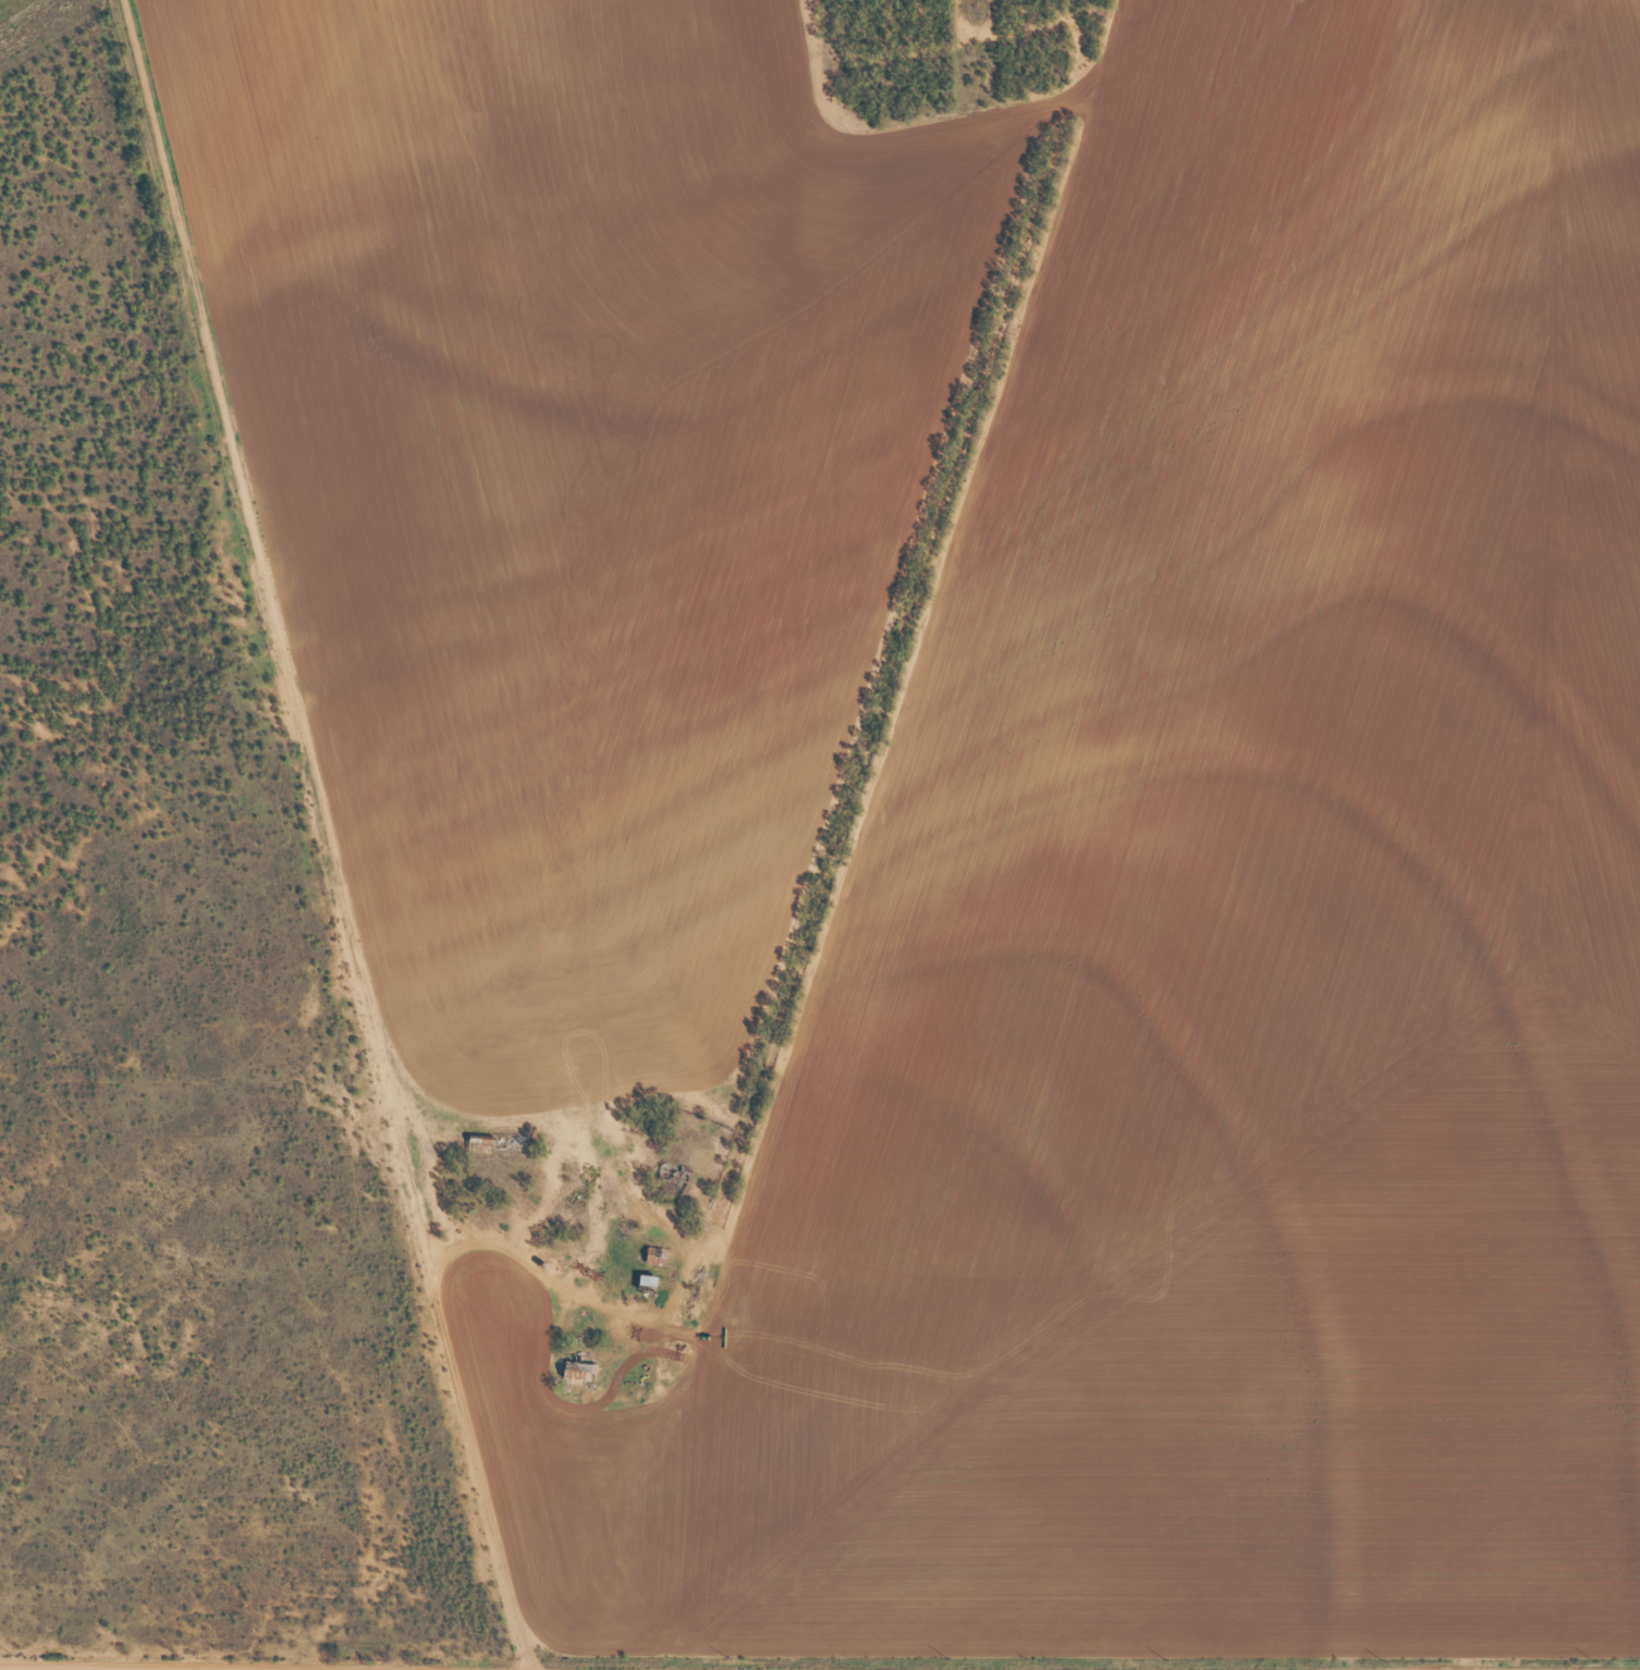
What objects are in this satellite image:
road: (309, 831)
road: (644, 1457)
road: (819, 1662)

